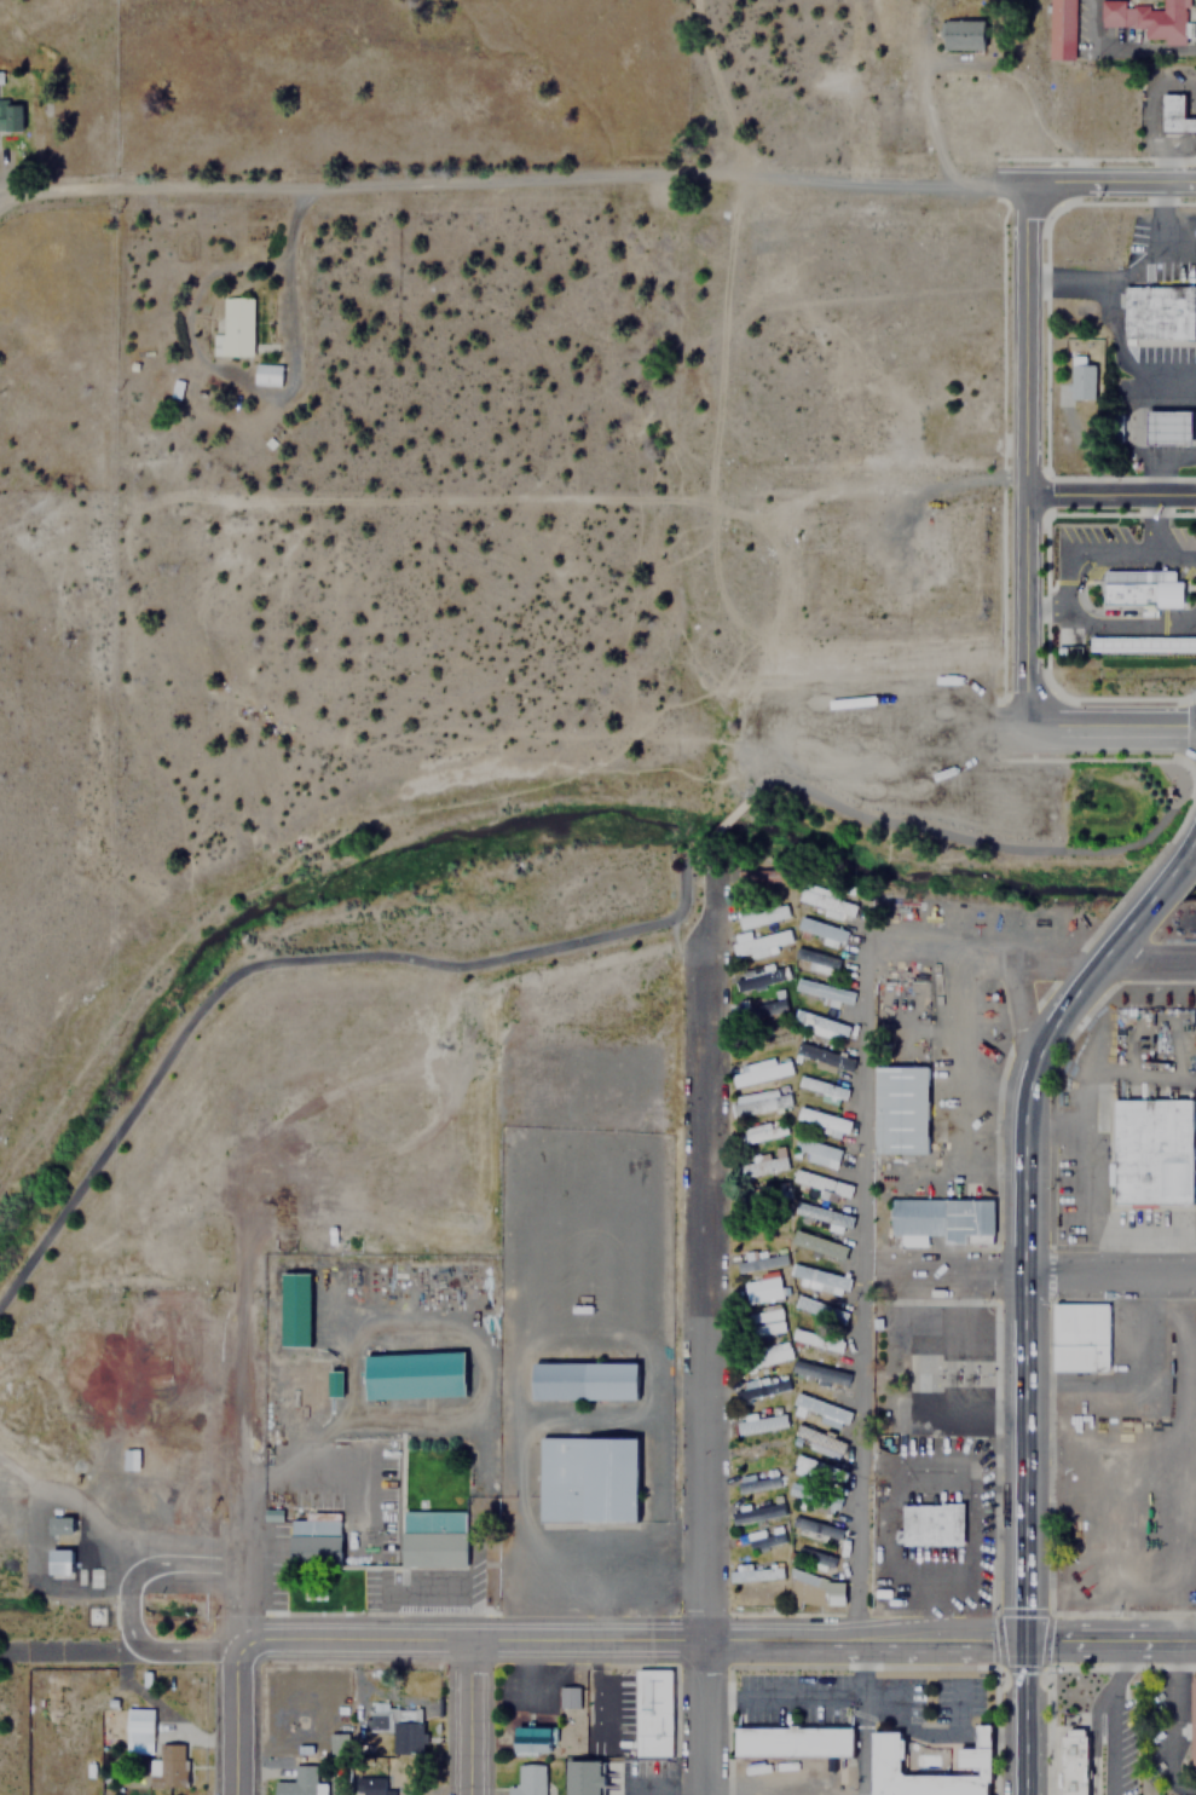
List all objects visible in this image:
building: (1149, 18)
building: (1059, 29)
building: (961, 34)
building: (0, 76)
building: (1173, 114)
building: (10, 117)
road: (1110, 180)
building: (1157, 312)
building: (233, 327)
building: (267, 374)
building: (1080, 381)
building: (1167, 427)
gas station: (1167, 427)
road: (1022, 455)
road: (1109, 495)
building: (1140, 588)
building: (1067, 640)
building: (1140, 642)
road: (1109, 729)
traffic signals: (1185, 729)
road: (722, 826)
road: (1190, 839)
road: (980, 841)
building: (762, 873)
road: (1155, 889)
building: (826, 900)
building: (761, 913)
building: (820, 928)
building: (758, 942)
building: (815, 960)
road: (1029, 960)
road: (283, 963)
building: (759, 975)
building: (824, 989)
building: (761, 1005)
road: (1018, 1012)
building: (817, 1025)
building: (764, 1037)
building: (815, 1055)
building: (759, 1070)
building: (821, 1086)
building: (759, 1099)
building: (899, 1108)
building: (821, 1120)
building: (761, 1131)
building: (1151, 1150)
building: (815, 1152)
building: (758, 1166)
building: (770, 1193)
building: (821, 1216)
building: (941, 1219)
building: (817, 1243)
building: (759, 1260)
road: (1051, 1276)
building: (820, 1279)
road: (710, 1281)
building: (761, 1288)
road: (861, 1299)
building: (819, 1308)
building: (297, 1309)
building: (763, 1321)
building: (1079, 1335)
road: (1028, 1346)
building: (763, 1355)
building: (819, 1372)
building: (414, 1374)
building: (583, 1380)
building: (336, 1383)
building: (743, 1396)
road: (233, 1407)
building: (820, 1408)
building: (756, 1422)
building: (817, 1442)
building: (758, 1453)
building: (128, 1459)
building: (819, 1470)
building: (587, 1479)
building: (756, 1481)
building: (814, 1496)
building: (756, 1512)
building: (51, 1523)
building: (930, 1524)
building: (62, 1525)
building: (763, 1537)
building: (432, 1539)
building: (313, 1541)
building: (813, 1558)
building: (53, 1562)
building: (753, 1571)
building: (815, 1591)
building: (753, 1598)
road: (127, 1605)
traffic signals: (1028, 1638)
road: (1111, 1638)
road: (960, 1639)
road: (474, 1640)
road: (802, 1640)
building: (567, 1697)
building: (652, 1713)
road: (236, 1718)
road: (472, 1718)
road: (710, 1718)
road: (860, 1718)
building: (1192, 1719)
building: (395, 1725)
building: (138, 1731)
building: (531, 1741)
building: (792, 1742)
building: (972, 1761)
building: (1073, 1764)
building: (171, 1765)
building: (582, 1777)
building: (527, 1779)
building: (296, 1782)
building: (375, 1787)

